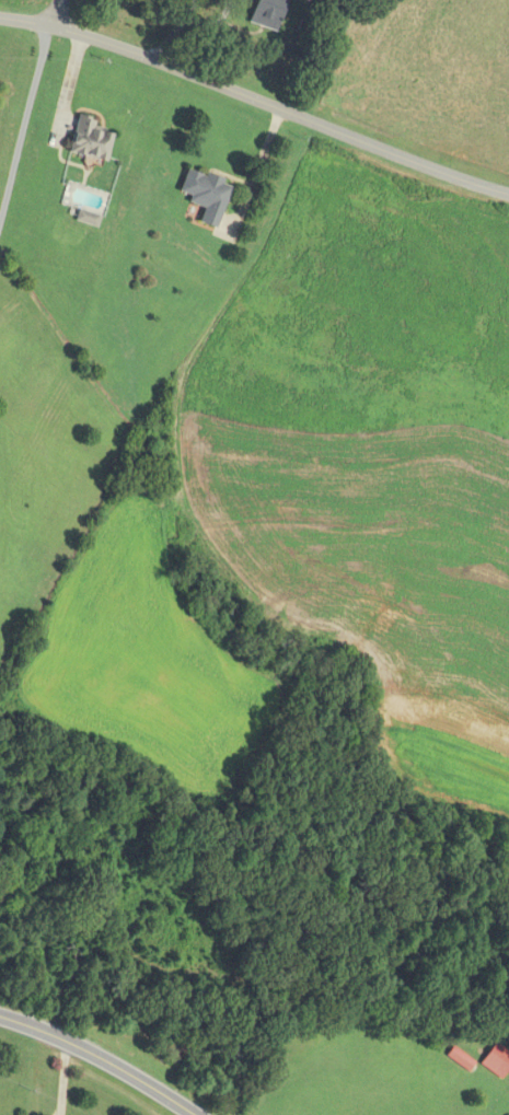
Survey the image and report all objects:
building: (264, 13)
road: (55, 15)
road: (256, 105)
road: (26, 138)
building: (88, 141)
building: (203, 197)
road: (95, 1059)

